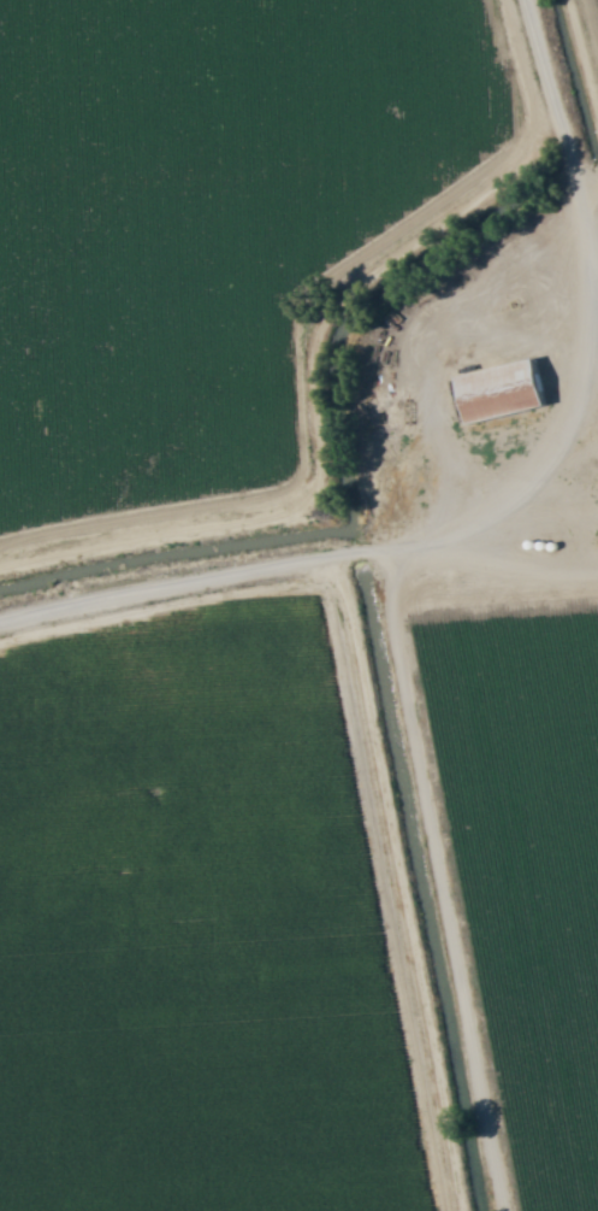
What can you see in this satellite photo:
road: (546, 66)
road: (562, 136)
road: (350, 292)
building: (503, 392)
road: (297, 553)

